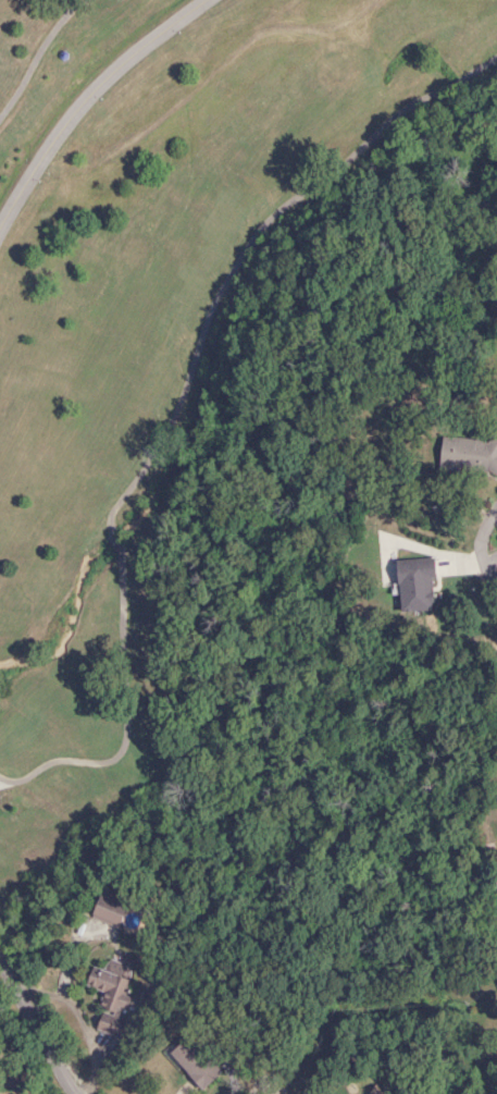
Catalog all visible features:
road: (35, 50)
road: (80, 97)
park: (175, 329)
road: (175, 404)
building: (468, 455)
road: (488, 543)
building: (414, 586)
building: (108, 911)
building: (110, 988)
road: (35, 1030)
building: (195, 1064)

